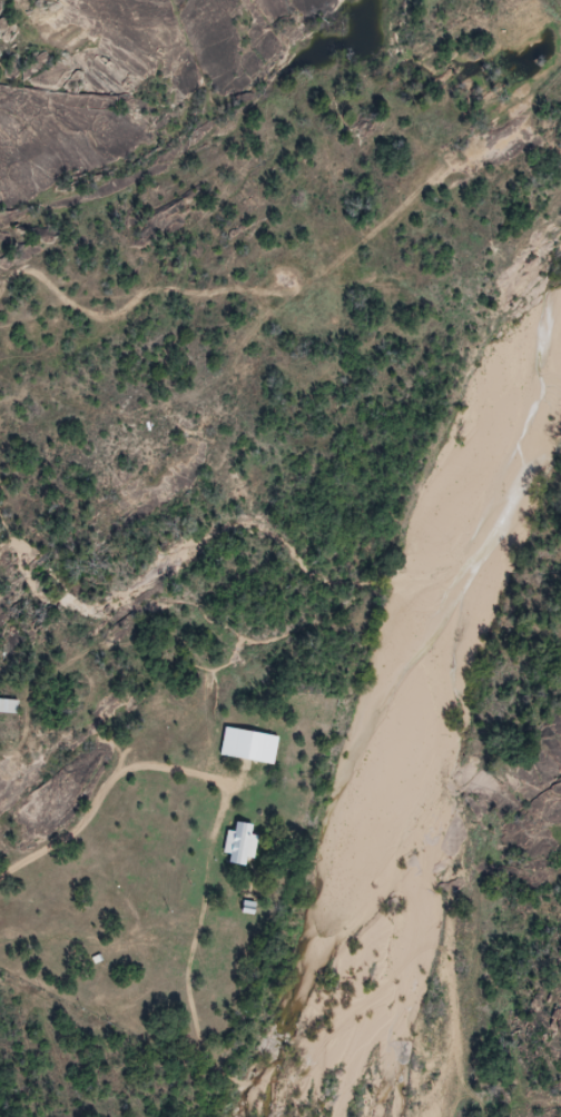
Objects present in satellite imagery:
building: (9, 706)
building: (250, 747)
building: (243, 846)

